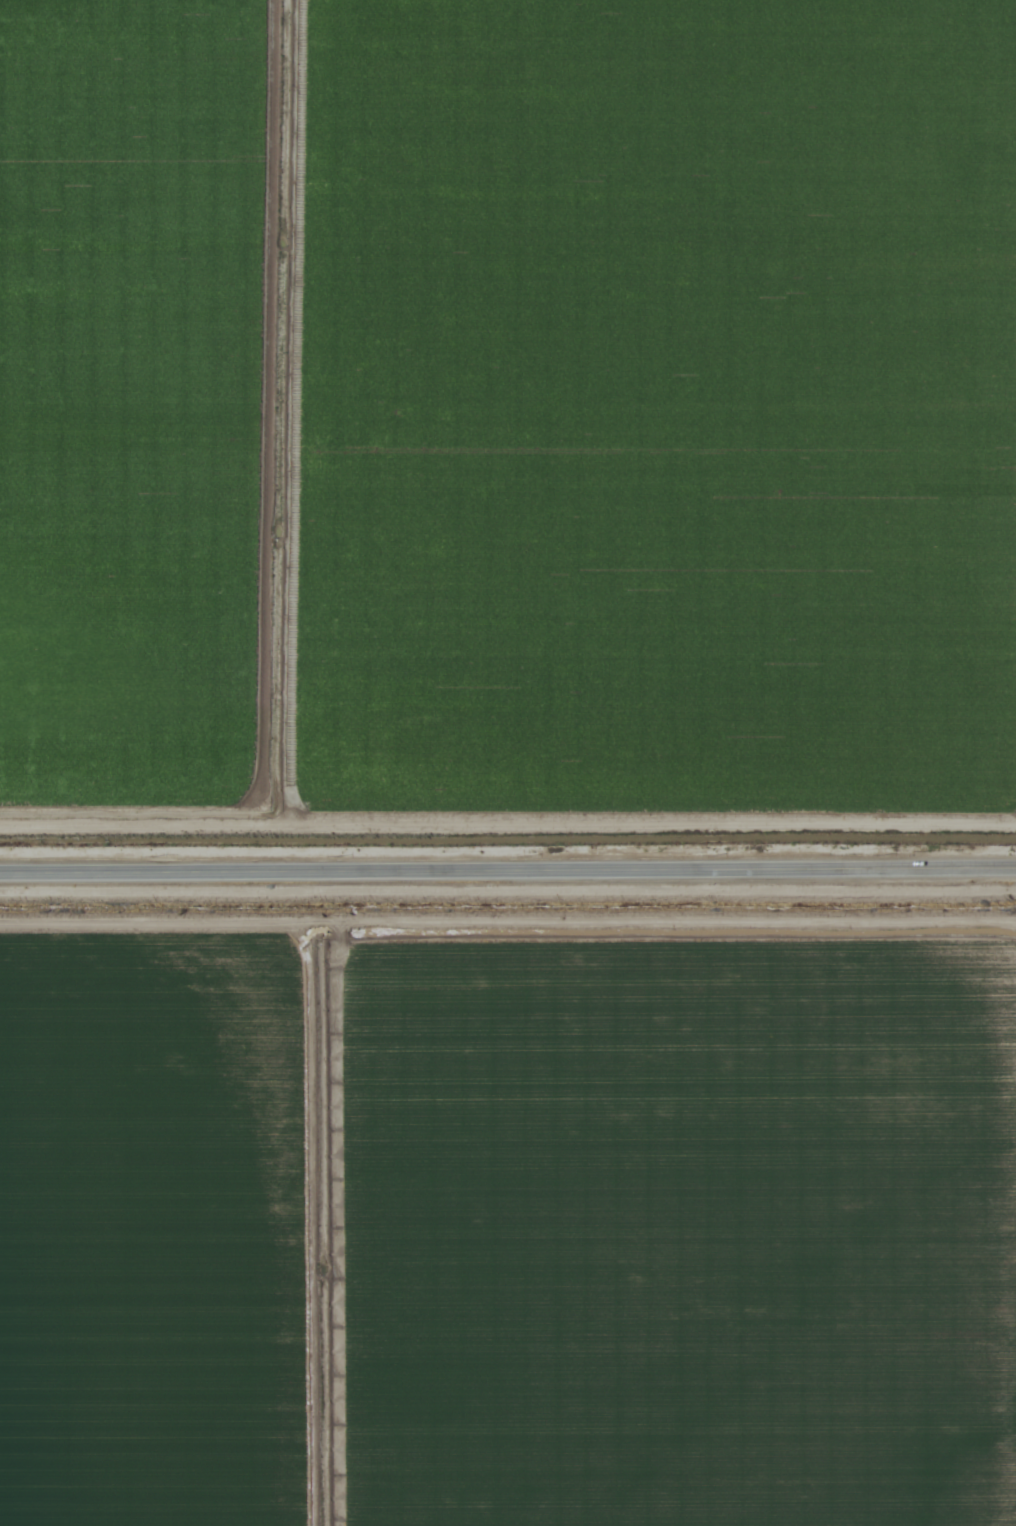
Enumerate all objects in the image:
road: (508, 871)

